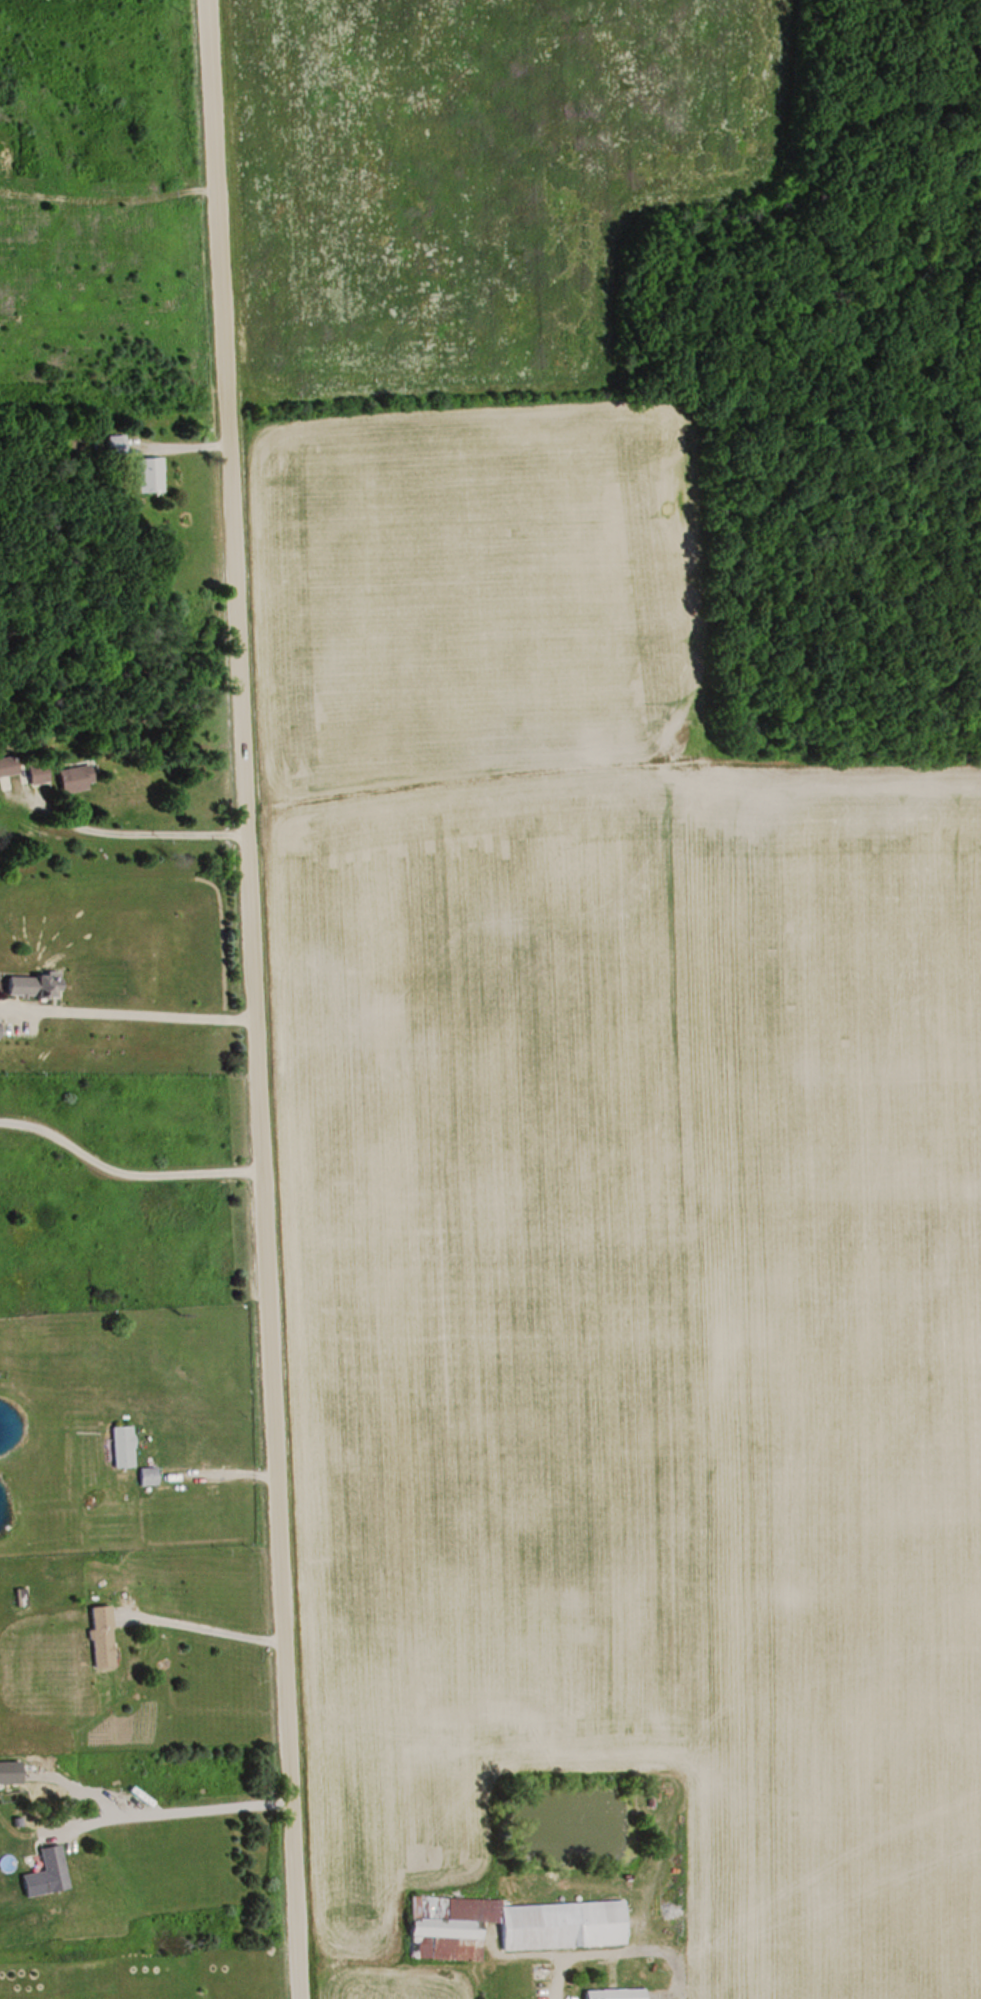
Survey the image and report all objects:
building: (116, 443)
building: (150, 473)
building: (24, 770)
building: (76, 778)
building: (35, 986)
road: (249, 999)
building: (122, 1446)
building: (148, 1476)
road: (198, 1624)
building: (102, 1648)
building: (48, 1874)
building: (515, 1922)
building: (615, 1993)

